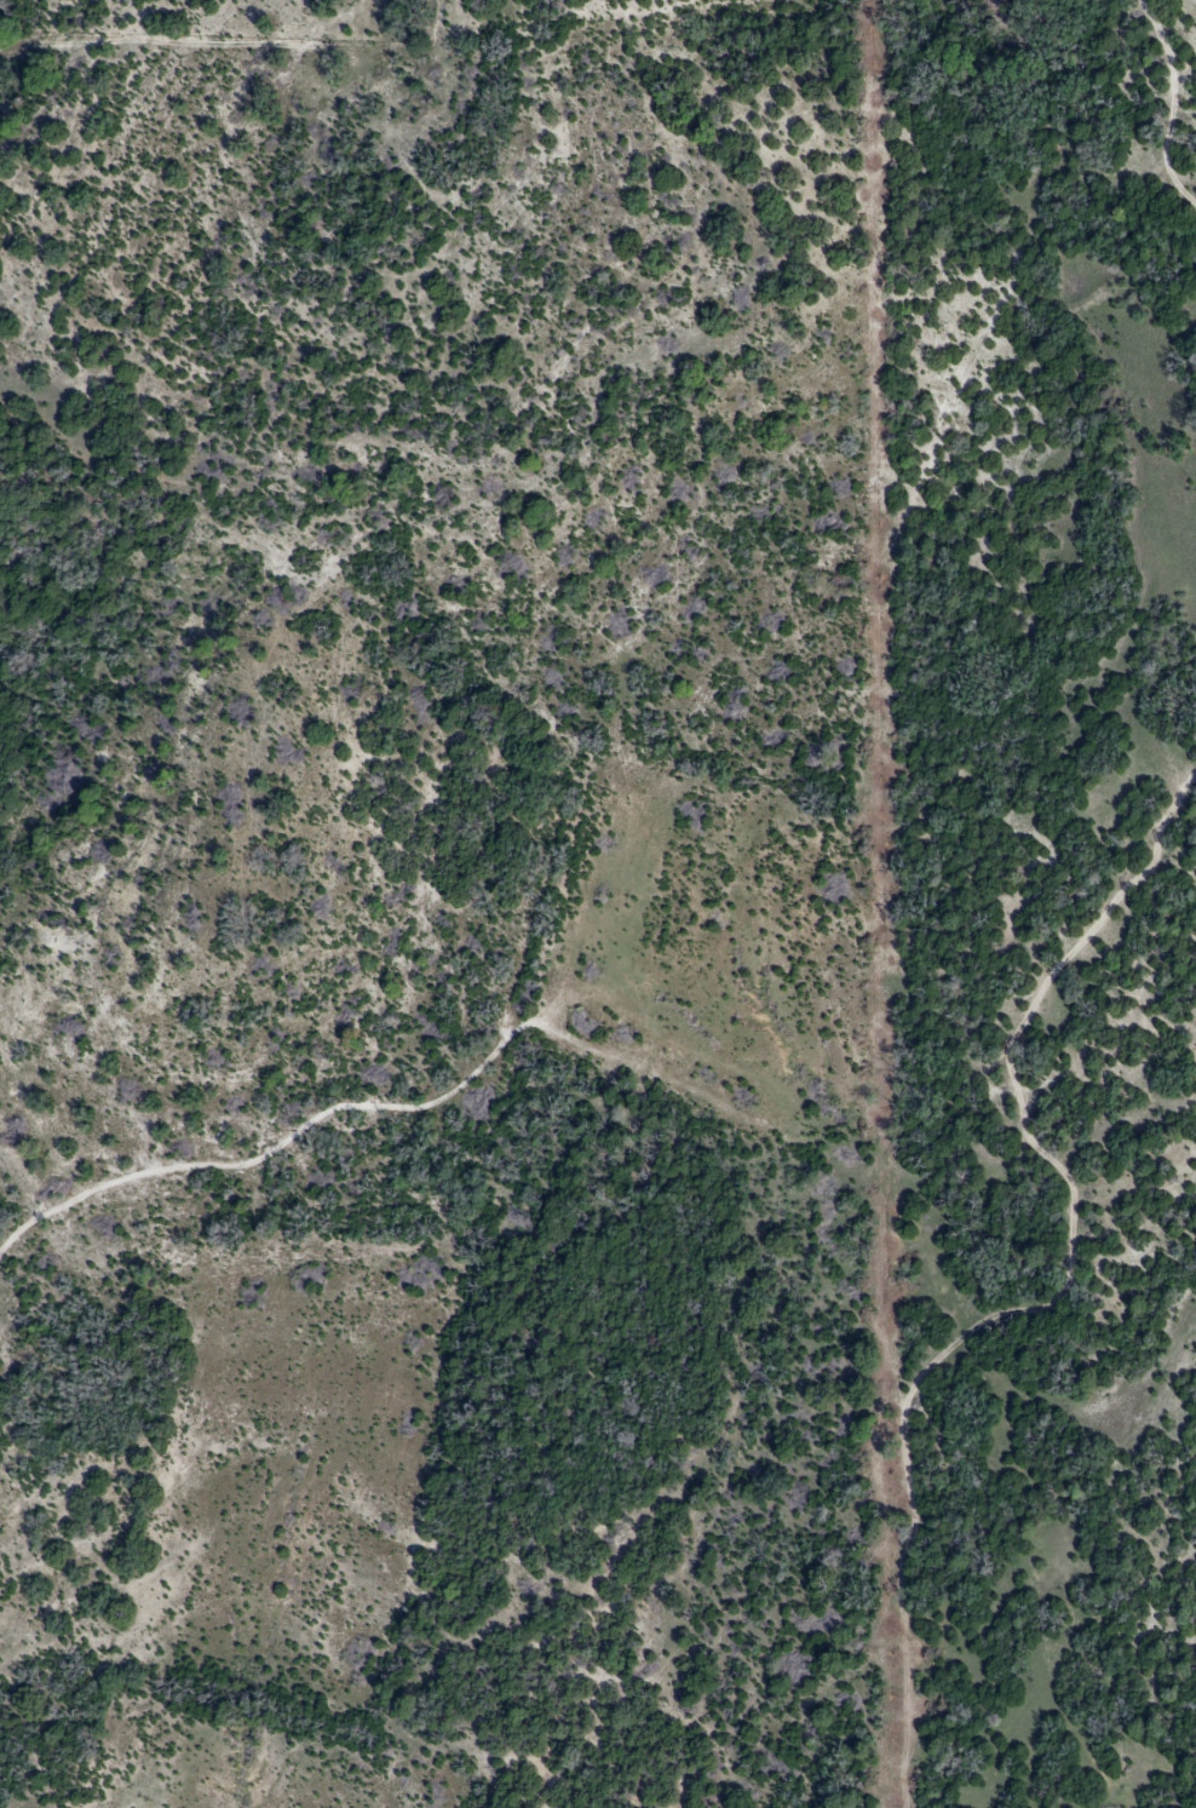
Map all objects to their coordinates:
road: (16, 23)

